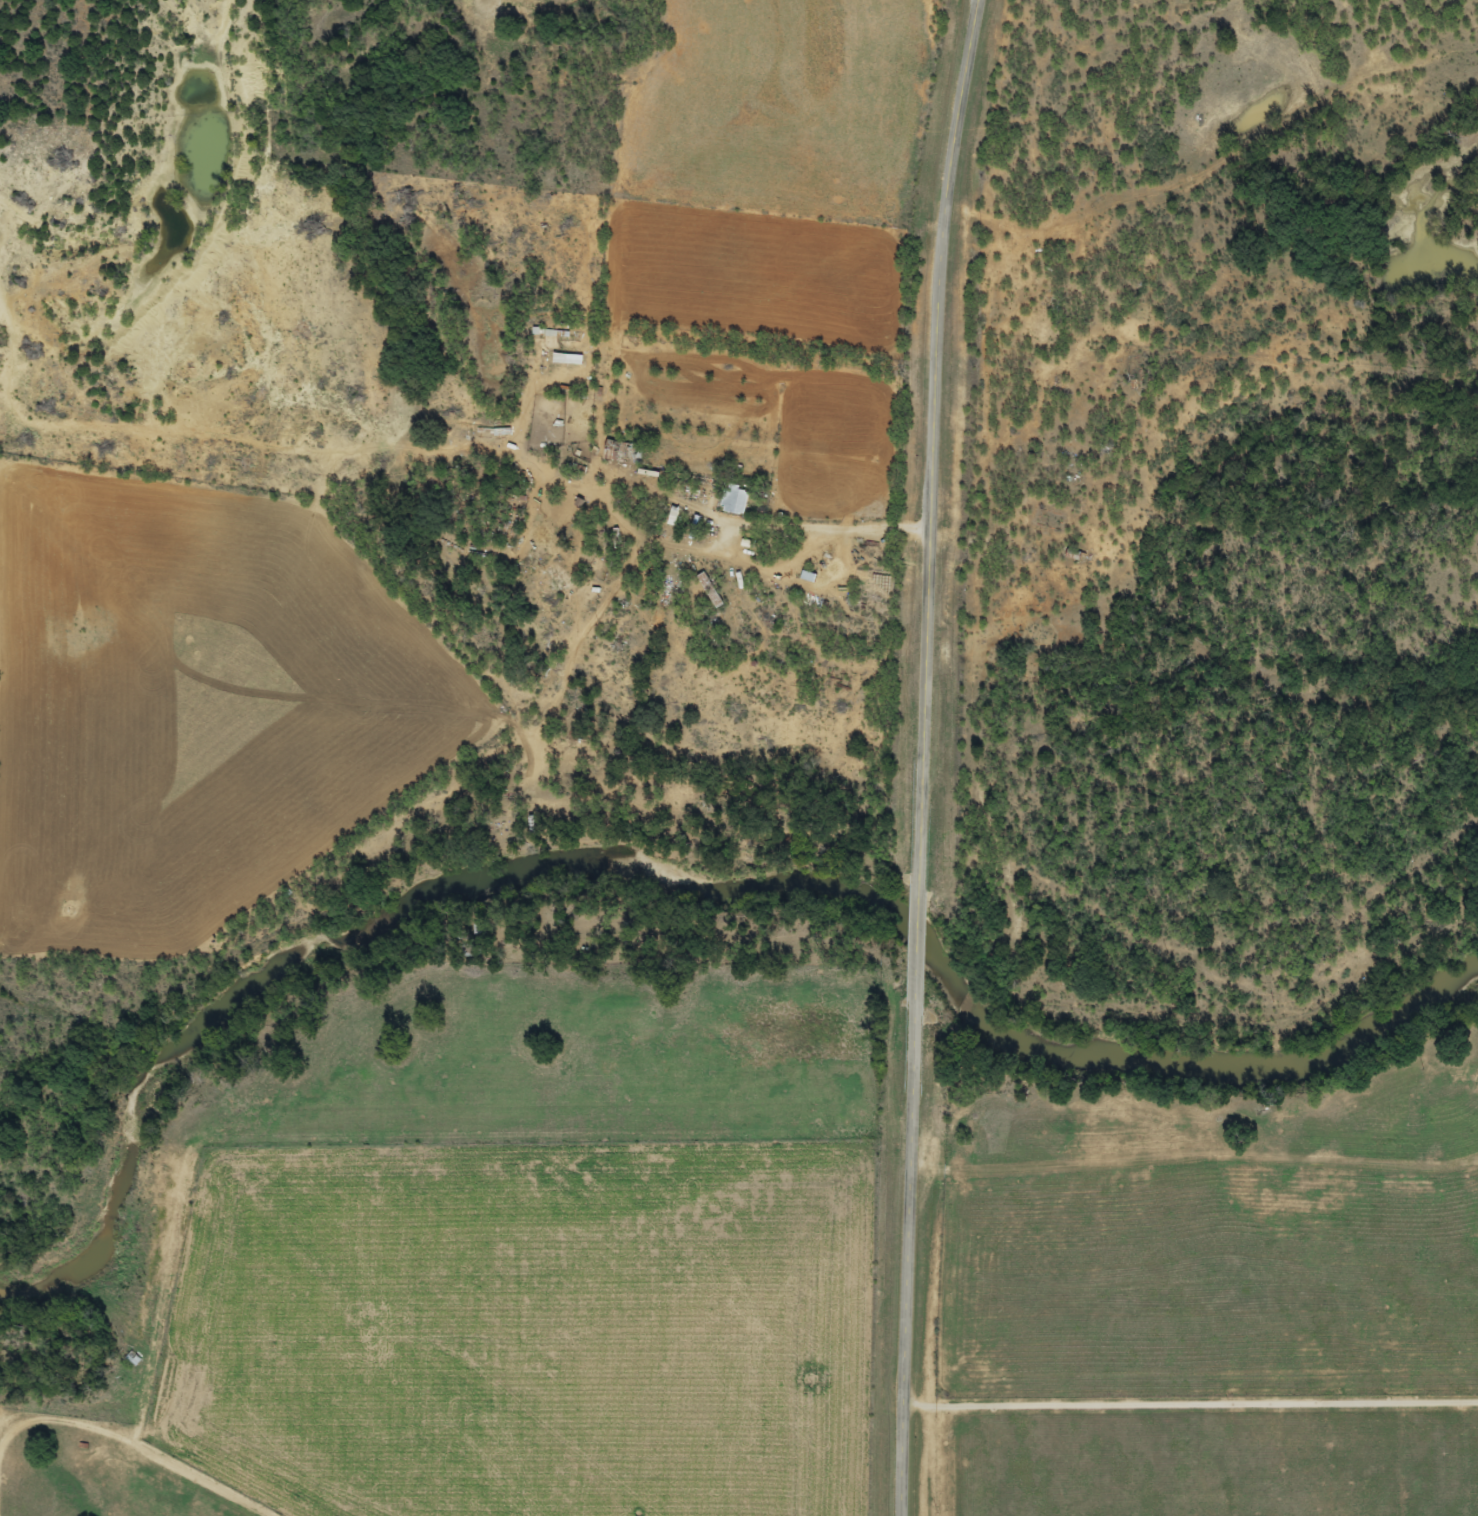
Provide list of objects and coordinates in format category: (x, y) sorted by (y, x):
road: (1364, 44)
road: (1198, 195)
building: (623, 454)
building: (735, 501)
building: (710, 592)
road: (926, 756)
building: (133, 1360)
road: (114, 1494)

